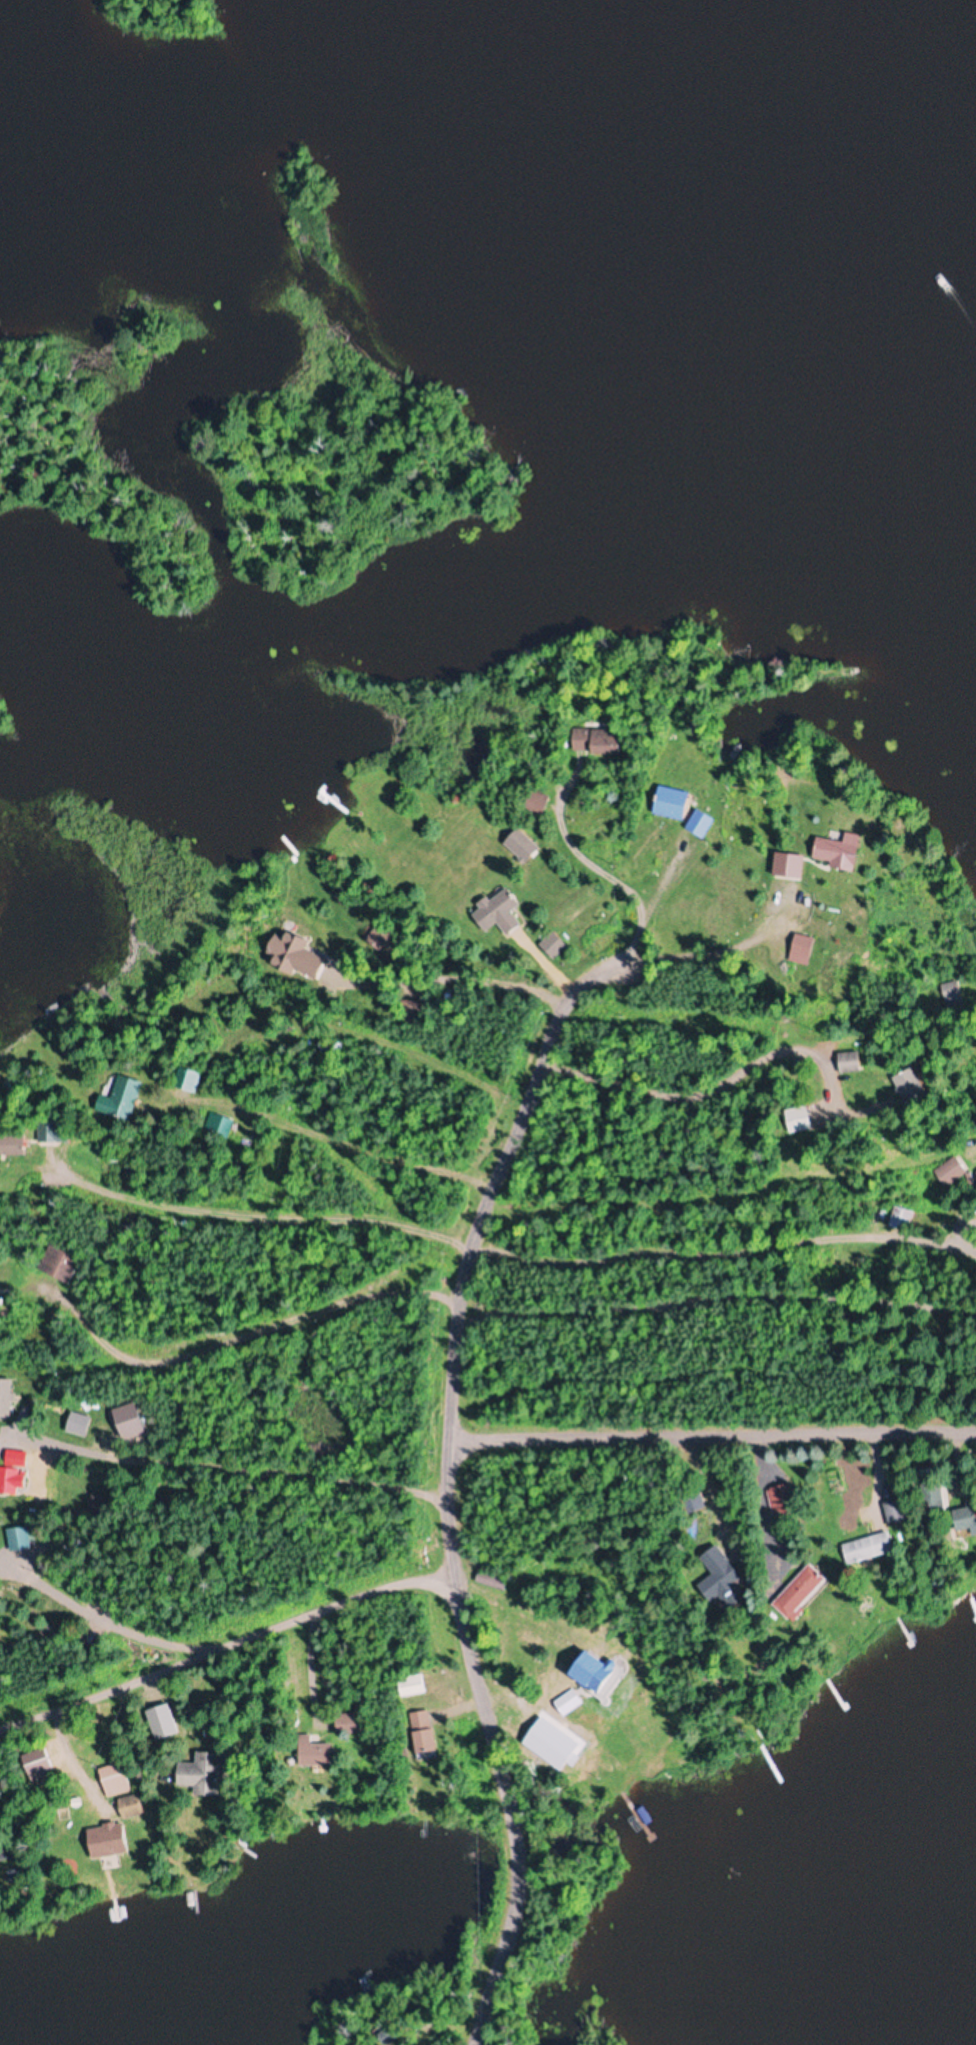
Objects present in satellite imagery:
building: (606, 742)
building: (671, 803)
building: (699, 824)
building: (837, 853)
building: (788, 866)
building: (380, 935)
building: (801, 945)
building: (552, 946)
building: (410, 1011)
building: (235, 1040)
building: (849, 1061)
building: (185, 1079)
building: (911, 1086)
building: (120, 1098)
building: (798, 1119)
building: (219, 1125)
building: (49, 1132)
road: (790, 1148)
building: (951, 1171)
road: (373, 1173)
road: (687, 1204)
building: (900, 1218)
road: (397, 1254)
road: (741, 1261)
building: (58, 1263)
road: (728, 1338)
road: (386, 1366)
road: (713, 1392)
building: (5, 1397)
building: (78, 1423)
building: (15, 1458)
road: (221, 1469)
road: (446, 1472)
building: (11, 1481)
building: (693, 1502)
building: (783, 1502)
building: (98, 1505)
building: (894, 1511)
building: (966, 1514)
building: (17, 1537)
building: (867, 1547)
building: (720, 1579)
building: (491, 1580)
building: (799, 1591)
road: (92, 1636)
road: (229, 1662)
building: (411, 1686)
building: (572, 1701)
building: (346, 1724)
building: (422, 1734)
building: (562, 1745)
building: (315, 1754)
building: (37, 1764)
building: (204, 1773)
building: (114, 1779)
building: (130, 1807)
building: (101, 1847)

